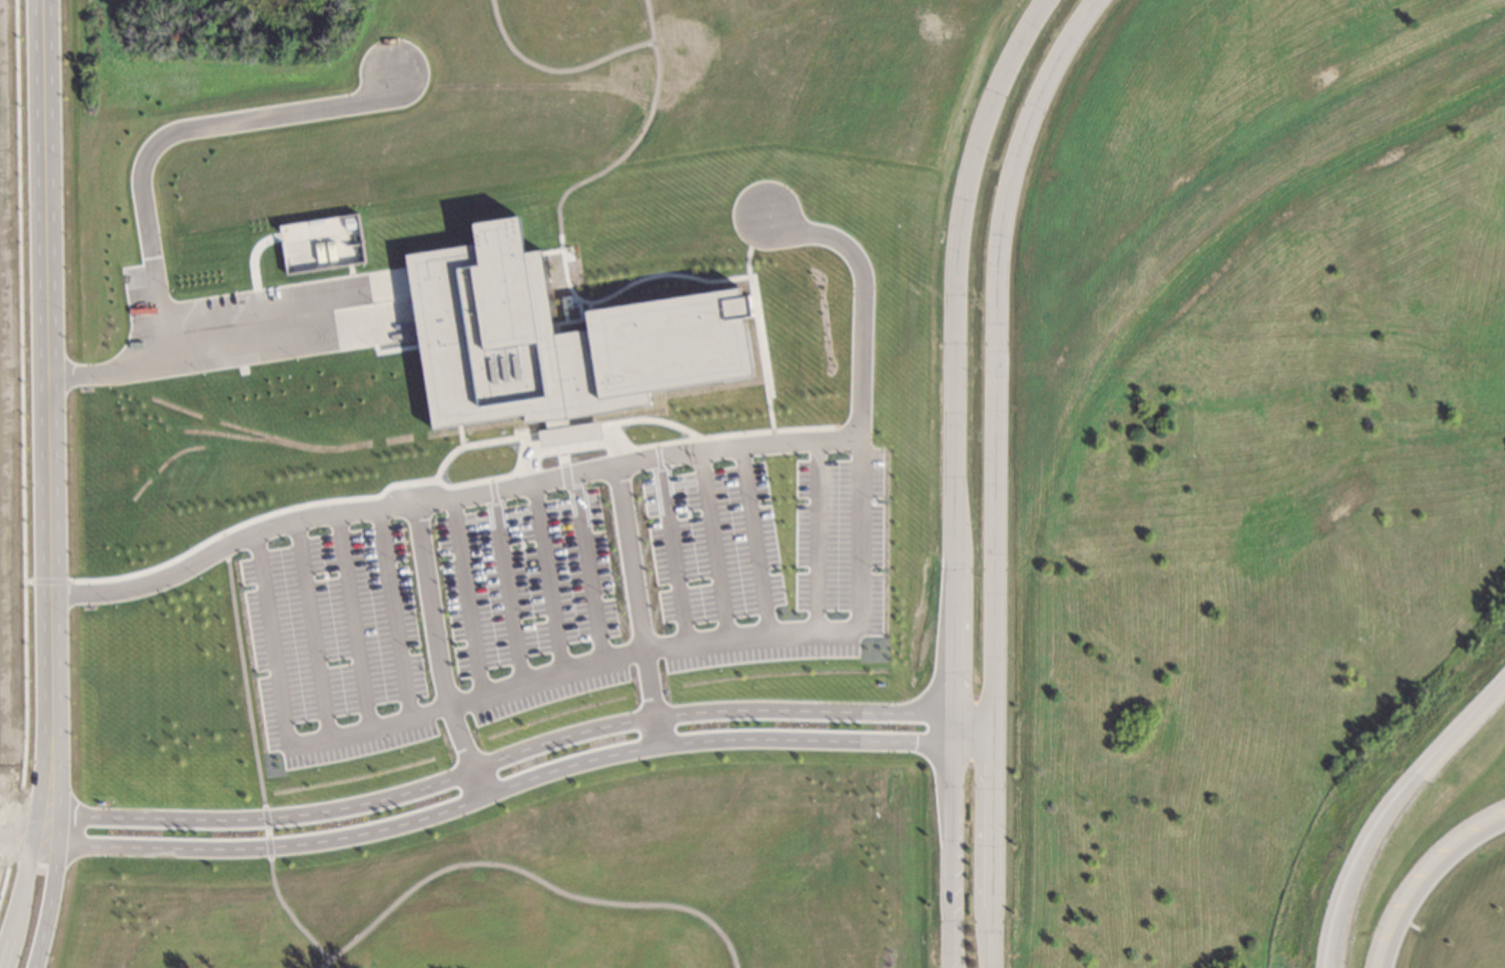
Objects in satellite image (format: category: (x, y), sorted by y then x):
road: (143, 169)
road: (959, 230)
road: (864, 292)
building: (559, 339)
road: (993, 347)
road: (46, 379)
road: (640, 456)
road: (378, 501)
road: (817, 534)
road: (753, 539)
road: (712, 542)
road: (671, 547)
road: (587, 562)
road: (547, 571)
road: (505, 580)
road: (465, 591)
road: (641, 604)
road: (393, 607)
road: (953, 612)
road: (351, 616)
road: (311, 625)
road: (555, 667)
road: (511, 756)
road: (522, 783)
road: (1389, 810)
road: (991, 841)
road: (29, 844)
road: (949, 856)
road: (25, 863)
road: (58, 864)
road: (1426, 880)
road: (953, 938)

